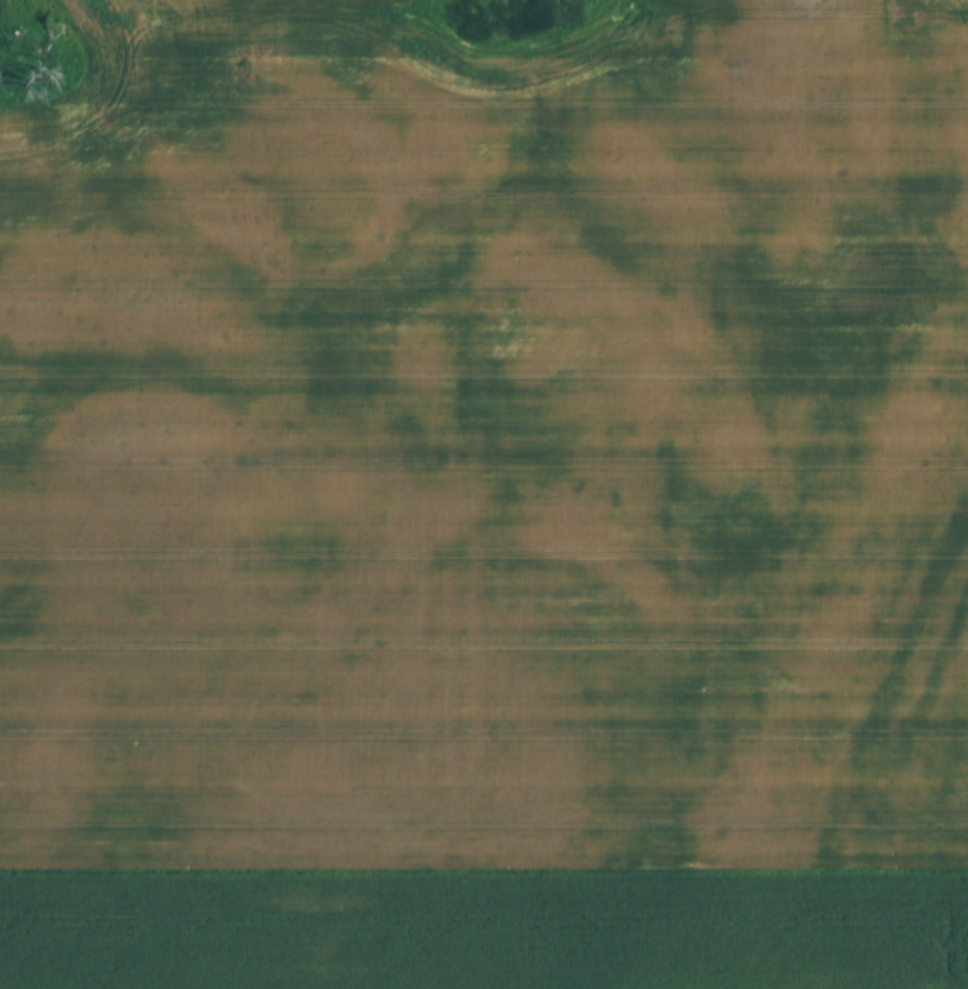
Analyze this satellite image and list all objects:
road: (483, 871)

